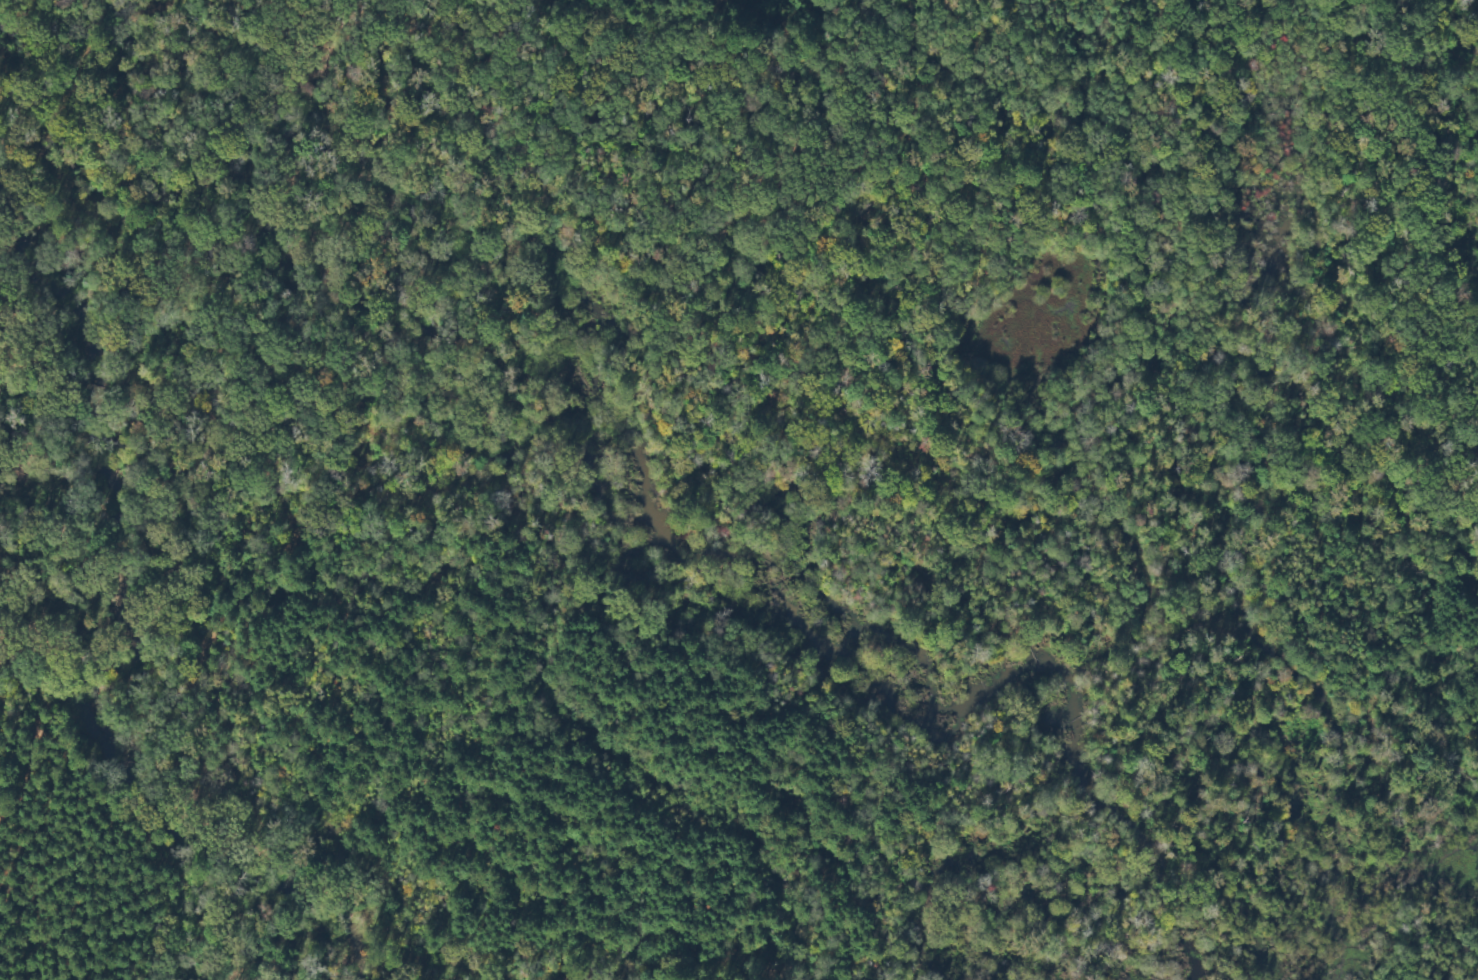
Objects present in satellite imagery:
road: (214, 375)
road: (75, 829)

